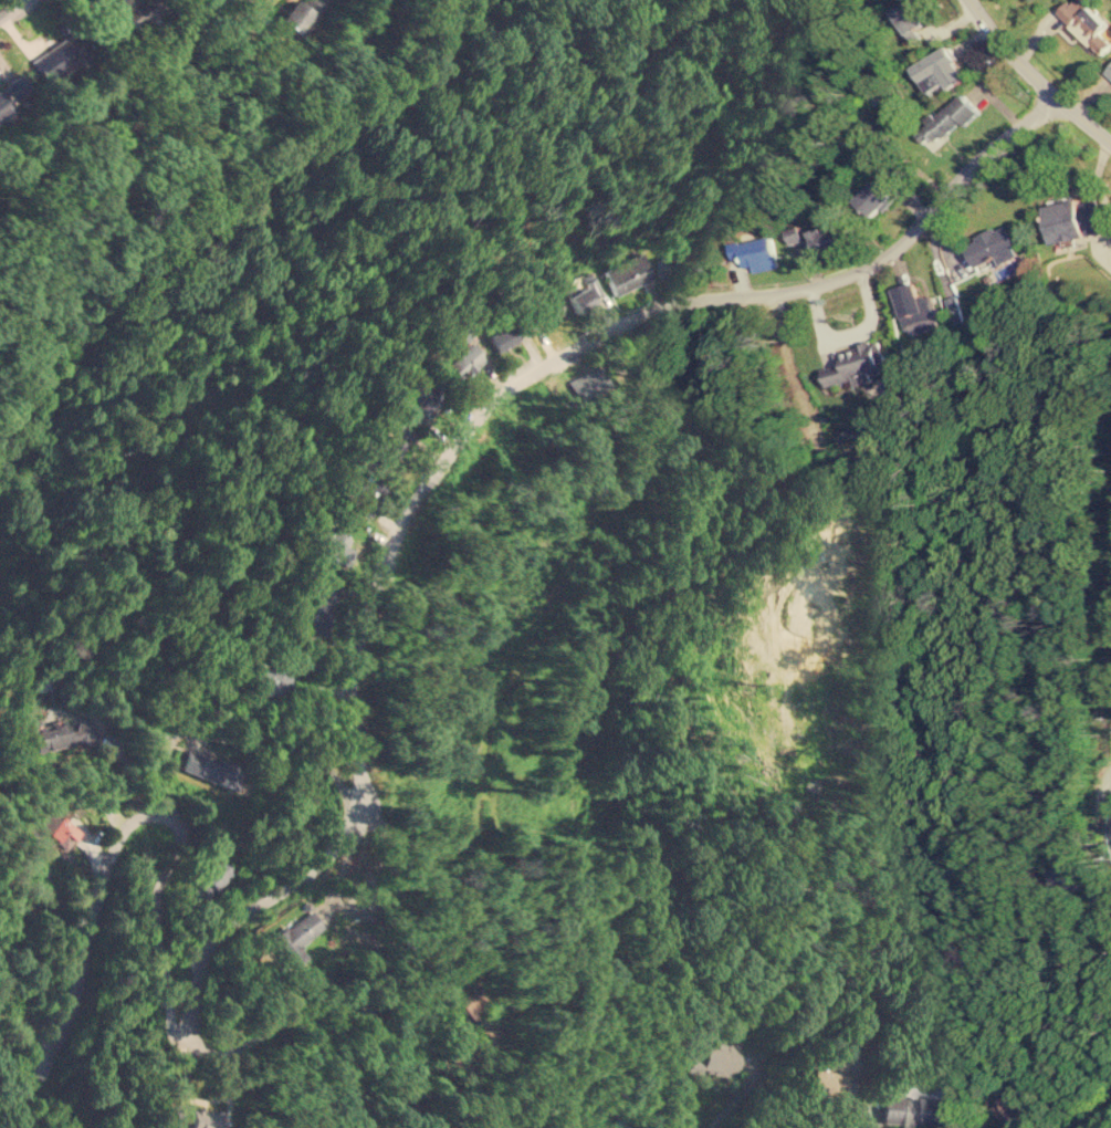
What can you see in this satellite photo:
road: (12, 8)
building: (136, 12)
building: (300, 14)
building: (908, 15)
building: (1084, 23)
building: (60, 55)
building: (937, 70)
building: (1108, 71)
road: (1036, 80)
building: (11, 92)
building: (945, 118)
building: (878, 196)
building: (1073, 219)
building: (793, 234)
building: (826, 236)
building: (993, 247)
building: (754, 252)
building: (670, 260)
building: (626, 273)
building: (578, 296)
building: (915, 309)
building: (544, 312)
building: (501, 334)
building: (463, 359)
building: (856, 364)
building: (649, 367)
building: (586, 382)
building: (421, 406)
road: (460, 436)
building: (395, 441)
building: (337, 547)
building: (264, 680)
road: (203, 734)
building: (60, 735)
building: (209, 766)
road: (1088, 828)
building: (61, 832)
building: (211, 877)
building: (295, 936)
road: (153, 937)
road: (80, 949)
building: (694, 1056)
building: (719, 1058)
building: (828, 1073)
road: (725, 1101)
road: (800, 1109)
building: (1009, 1109)
building: (915, 1110)
building: (196, 1118)
road: (1103, 1121)
road: (869, 1125)

